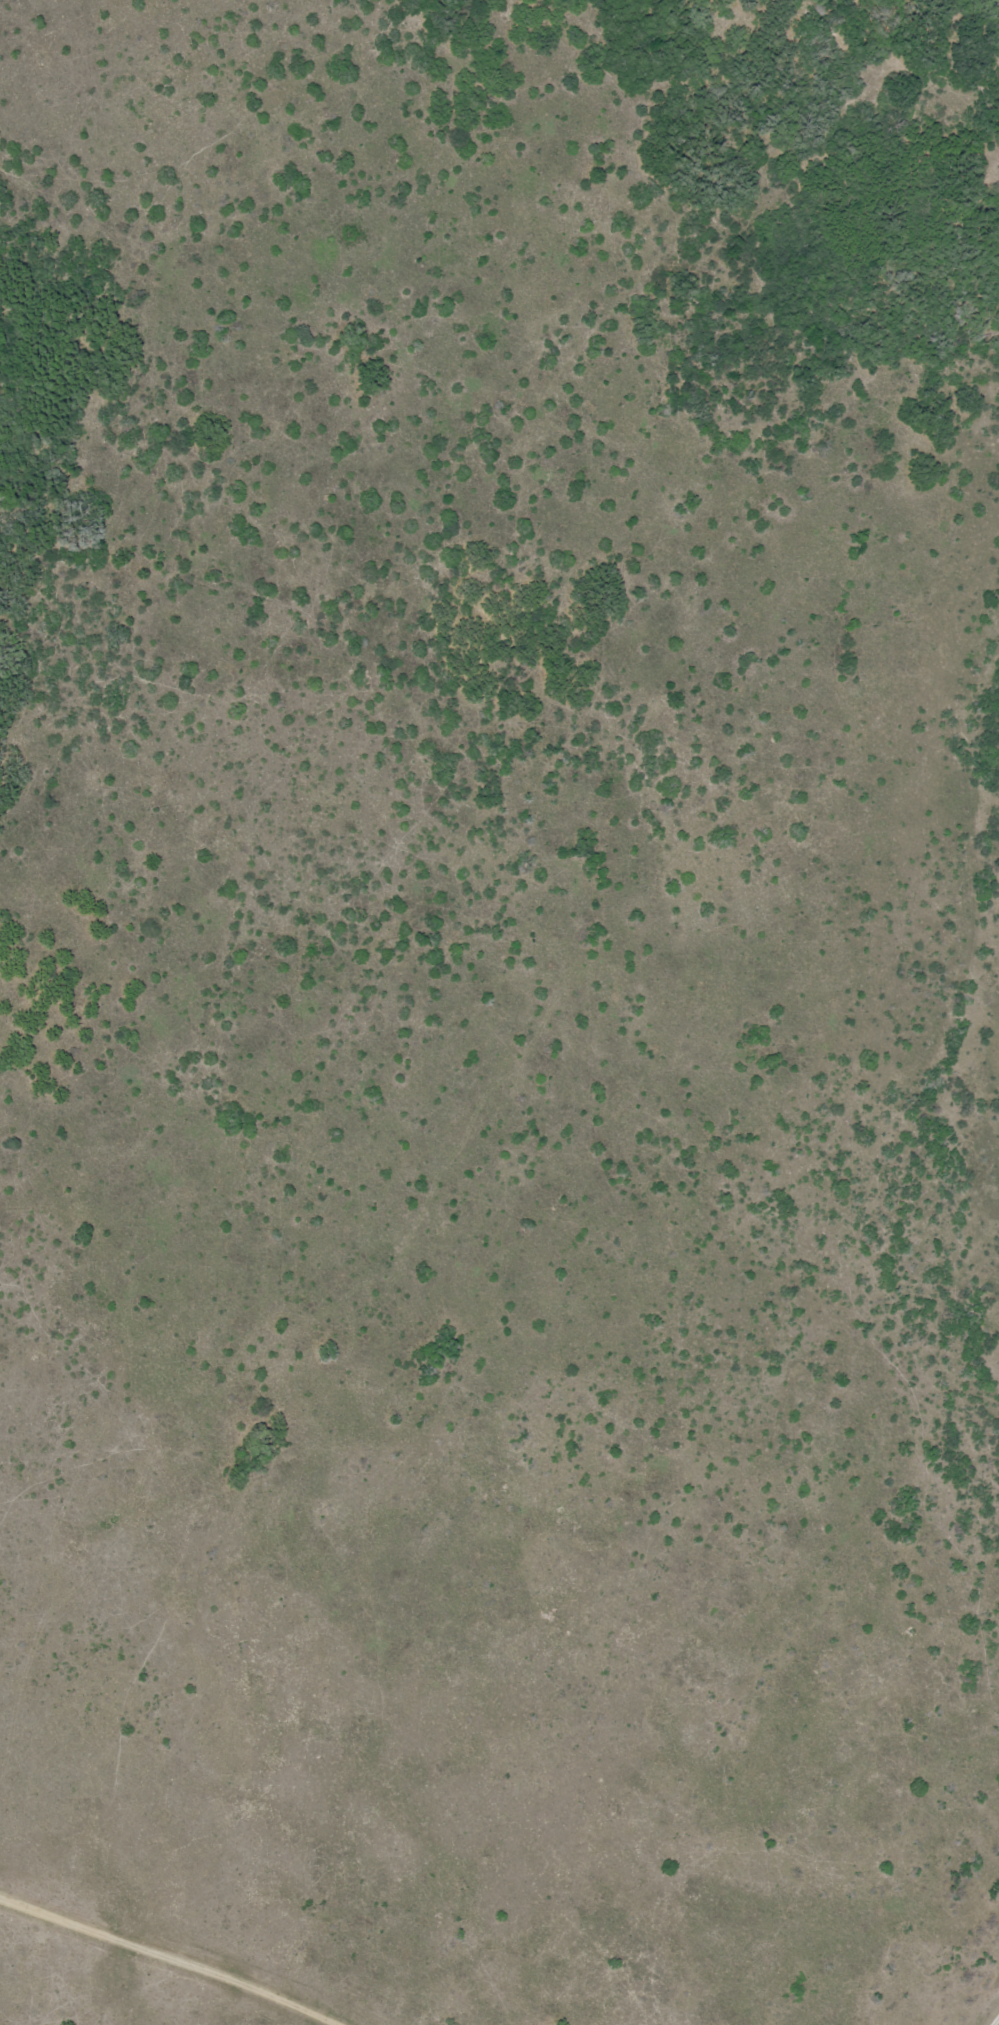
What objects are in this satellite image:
road: (170, 1955)

